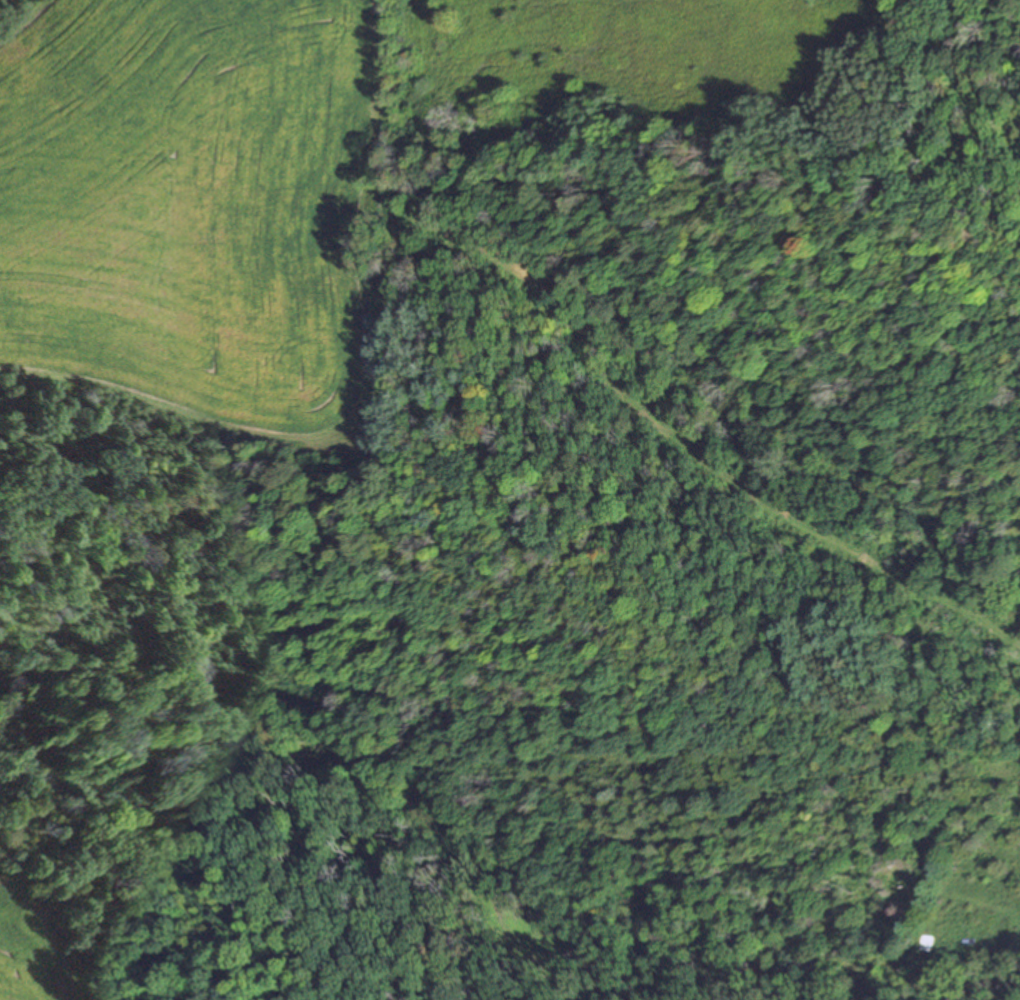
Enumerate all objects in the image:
building: (894, 880)
building: (925, 944)

